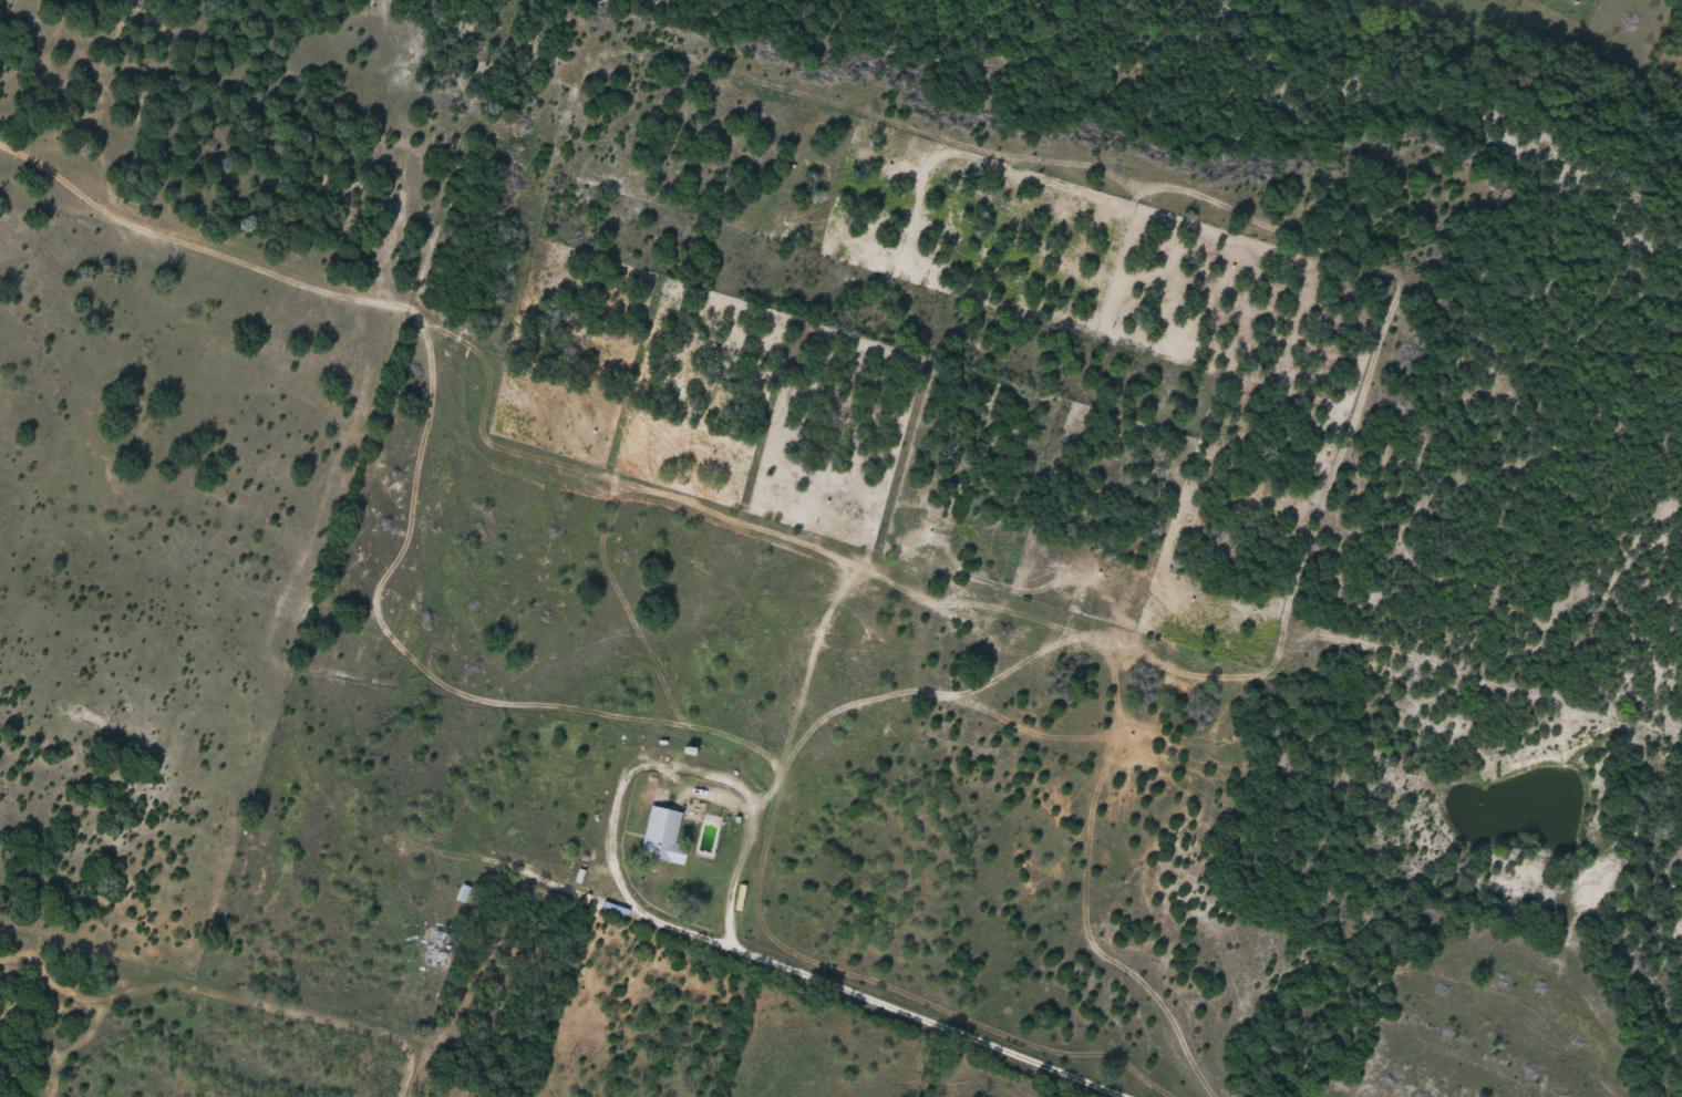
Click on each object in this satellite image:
building: (662, 834)
building: (463, 891)

